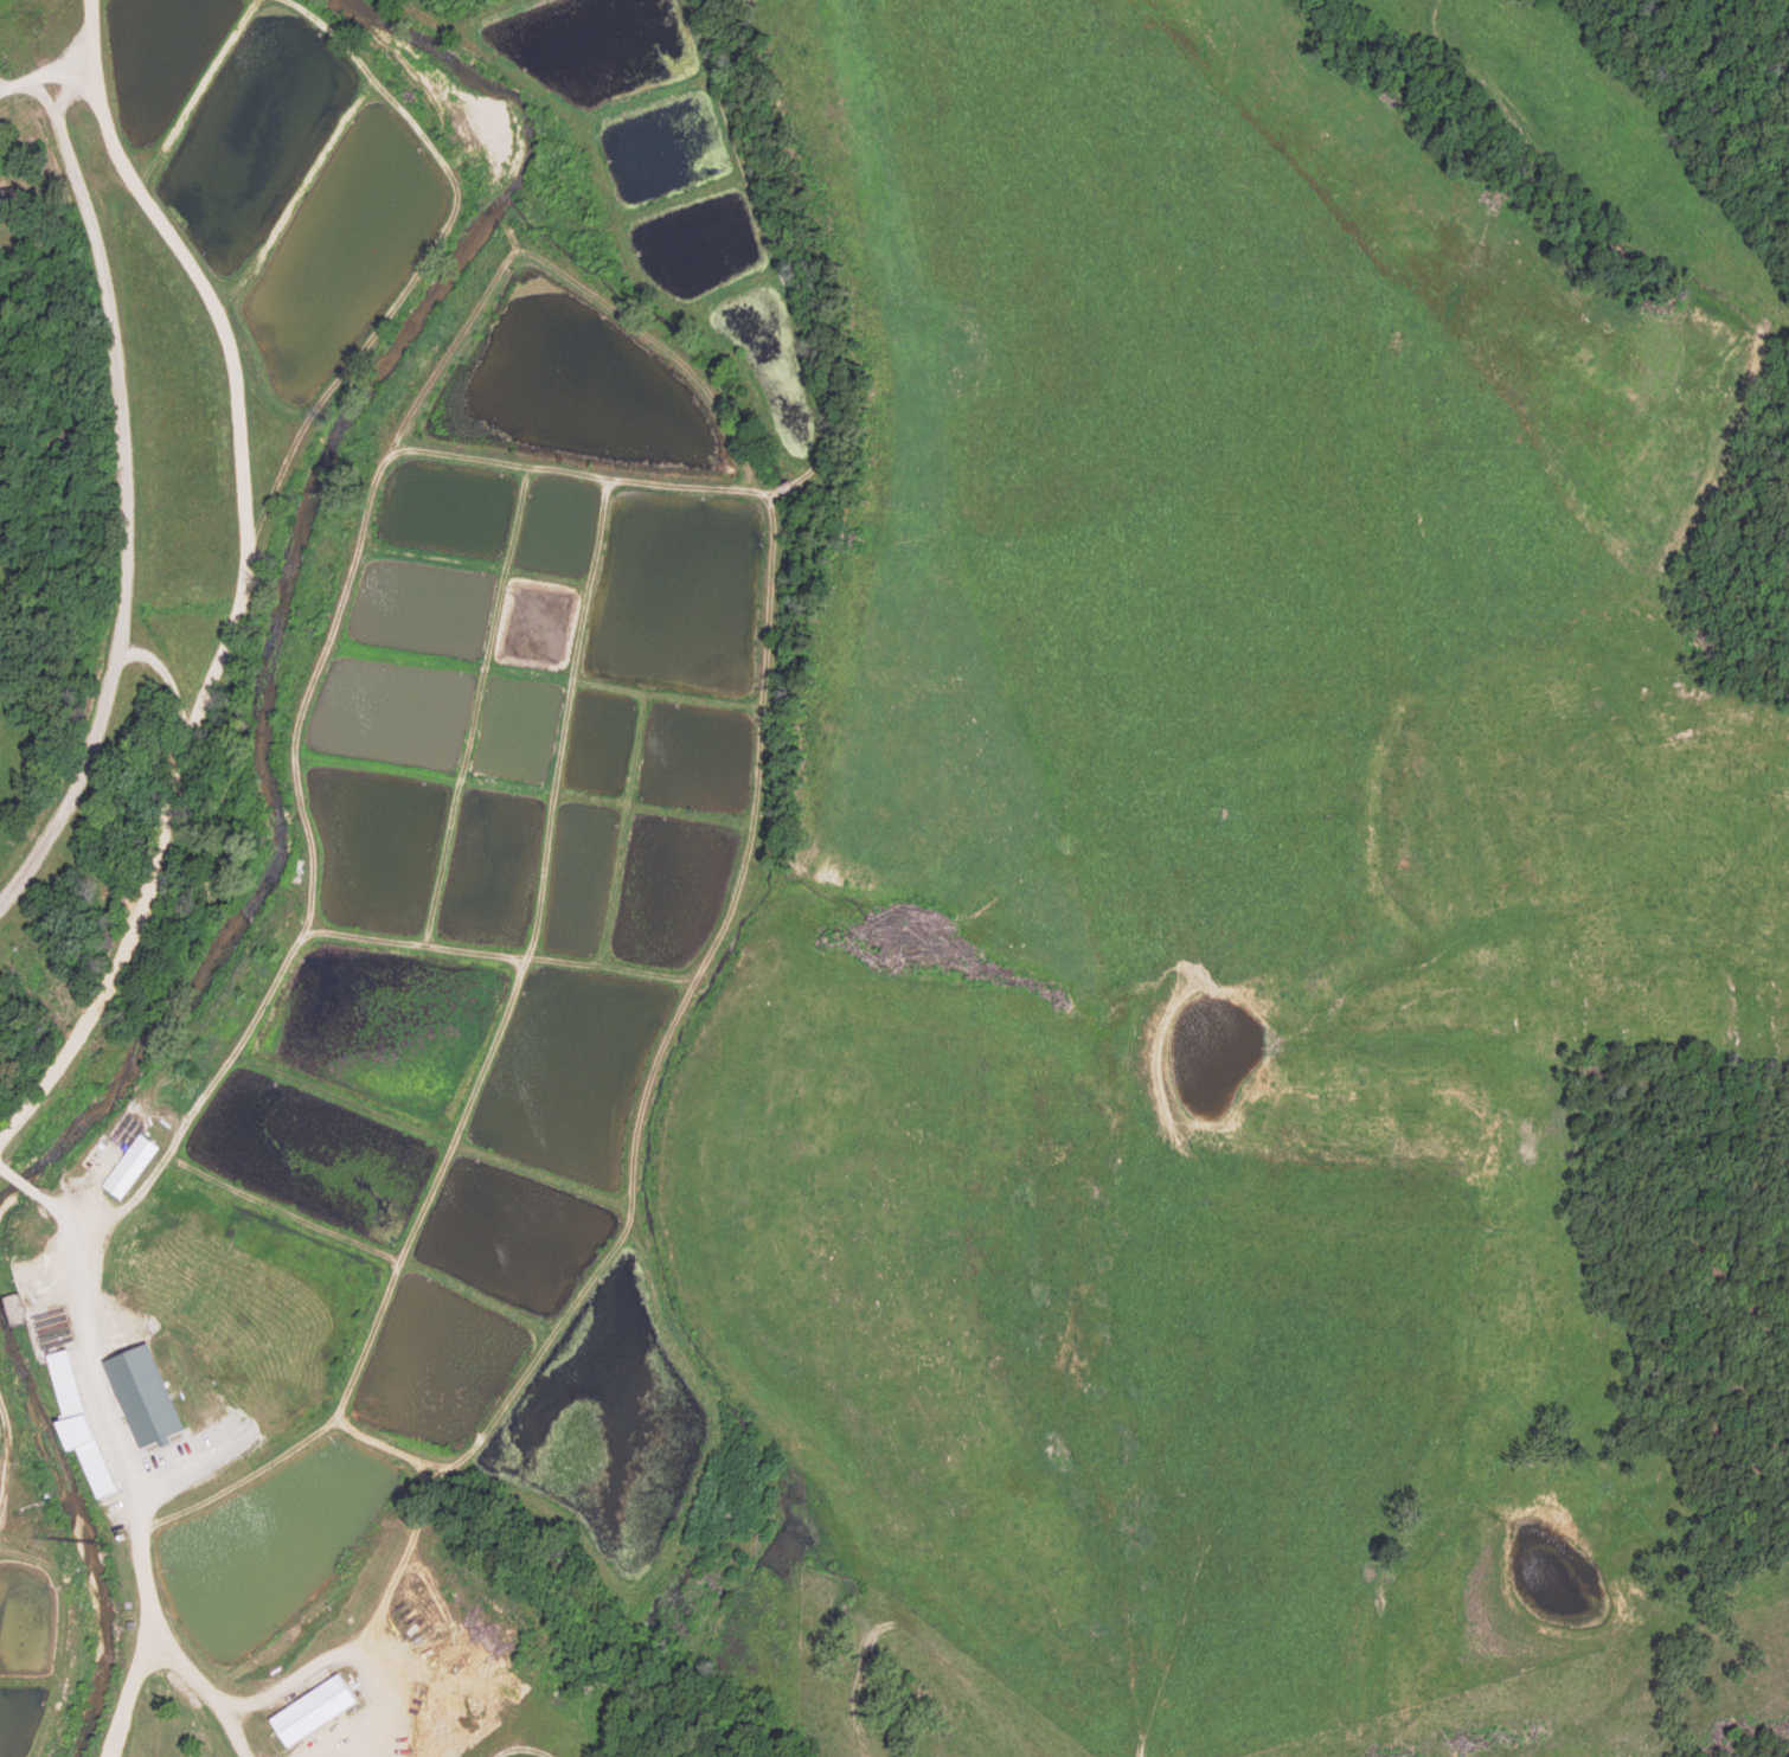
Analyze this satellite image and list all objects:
road: (46, 70)
road: (229, 364)
road: (126, 498)
road: (149, 911)
building: (130, 1167)
building: (143, 1398)
building: (78, 1426)
road: (107, 1448)
road: (351, 1655)
road: (205, 1697)
building: (314, 1712)
road: (380, 1733)
road: (521, 1751)

